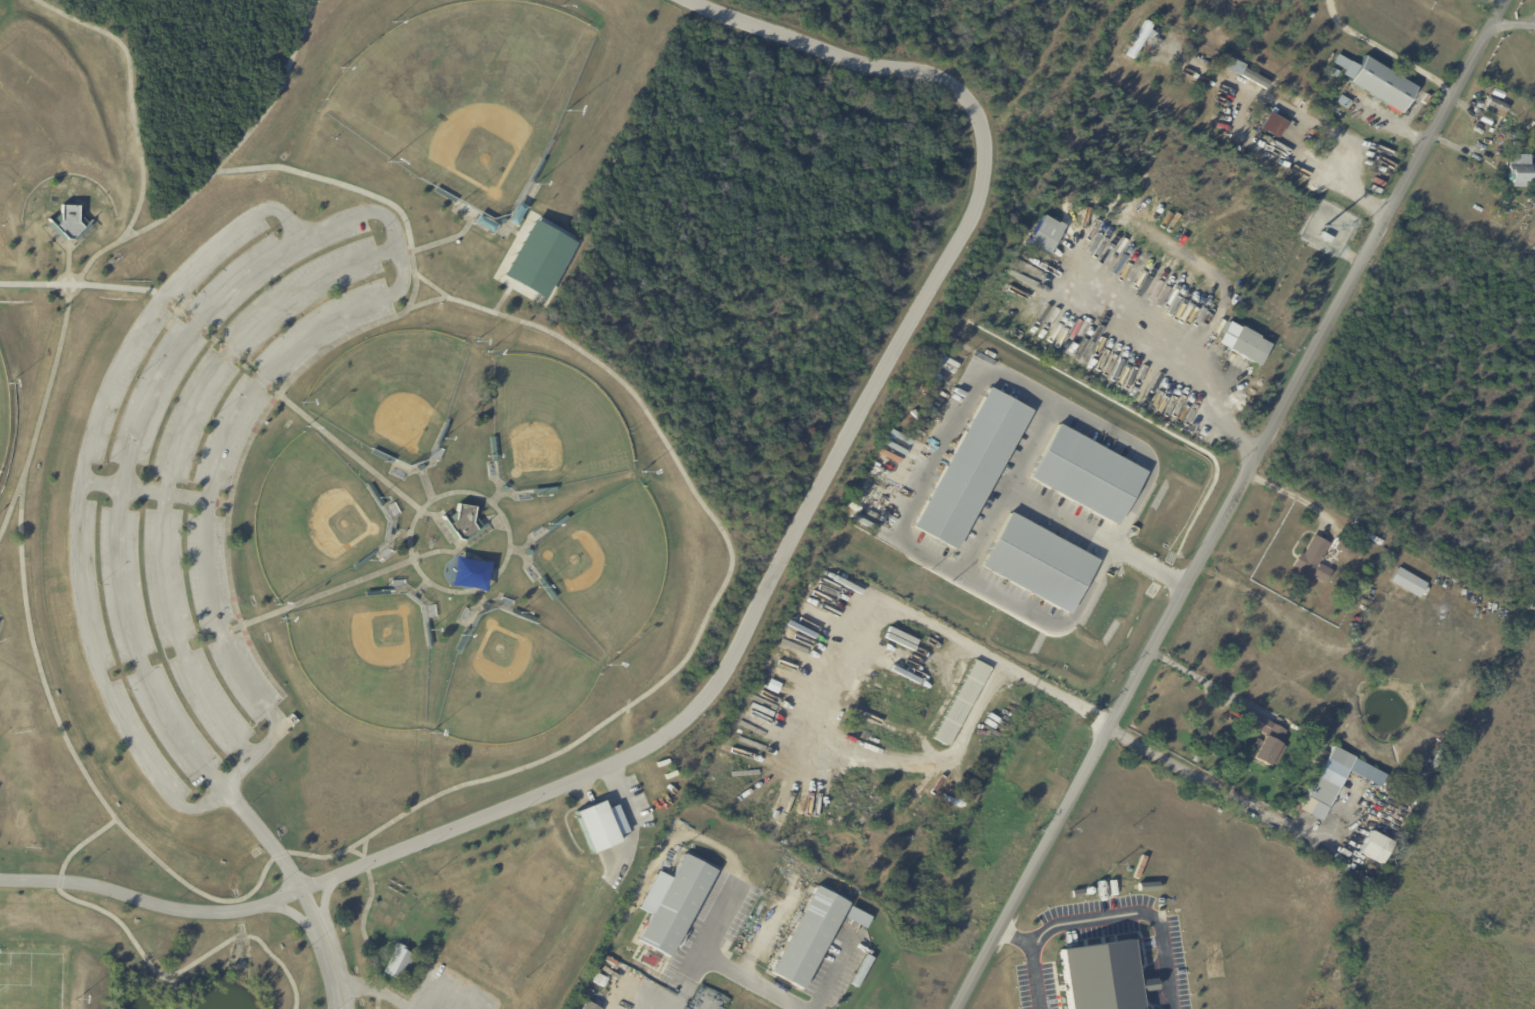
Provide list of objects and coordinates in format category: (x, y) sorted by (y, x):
building: (1285, 1)
building: (1308, 13)
road: (1512, 24)
building: (1139, 38)
road: (1386, 51)
building: (1233, 66)
building: (1335, 73)
building: (1377, 82)
building: (1498, 93)
road: (132, 96)
park: (465, 97)
building: (1496, 108)
building: (1361, 114)
building: (1271, 125)
building: (1516, 144)
road: (1257, 146)
road: (224, 163)
building: (536, 170)
building: (1520, 170)
building: (1375, 190)
road: (360, 193)
building: (444, 197)
building: (70, 224)
building: (1044, 234)
building: (1325, 238)
road: (448, 241)
building: (538, 259)
park: (534, 260)
road: (430, 287)
road: (79, 290)
road: (1052, 299)
road: (502, 302)
building: (1242, 344)
road: (227, 352)
building: (939, 361)
road: (47, 392)
park: (393, 393)
road: (964, 403)
park: (3, 418)
park: (554, 427)
building: (441, 435)
park: (432, 446)
road: (1033, 447)
building: (492, 449)
building: (381, 458)
road: (174, 459)
building: (970, 468)
building: (1086, 474)
parking lot: (202, 477)
building: (543, 491)
road: (122, 493)
building: (373, 497)
road: (1296, 498)
road: (1235, 507)
park: (313, 519)
building: (461, 523)
building: (556, 524)
building: (1344, 548)
building: (362, 561)
building: (1314, 561)
building: (1038, 563)
park: (605, 566)
road: (496, 575)
building: (1403, 580)
road: (360, 581)
building: (545, 590)
building: (377, 594)
road: (759, 603)
building: (521, 617)
road: (926, 623)
building: (426, 635)
building: (461, 641)
park: (365, 658)
road: (685, 660)
park: (512, 681)
road: (1220, 689)
building: (962, 704)
building: (731, 738)
building: (1265, 740)
building: (1310, 753)
building: (1329, 777)
road: (224, 784)
road: (1245, 804)
road: (630, 813)
building: (594, 829)
building: (1374, 849)
road: (356, 854)
road: (299, 888)
building: (677, 906)
building: (855, 919)
building: (968, 920)
road: (1102, 920)
road: (363, 924)
building: (807, 940)
road: (1020, 942)
building: (650, 957)
road: (145, 960)
road: (719, 963)
building: (396, 964)
road: (832, 971)
road: (447, 973)
building: (1103, 978)
road: (172, 981)
road: (691, 981)
park: (30, 989)
road: (374, 992)
road: (411, 992)
building: (588, 1007)

